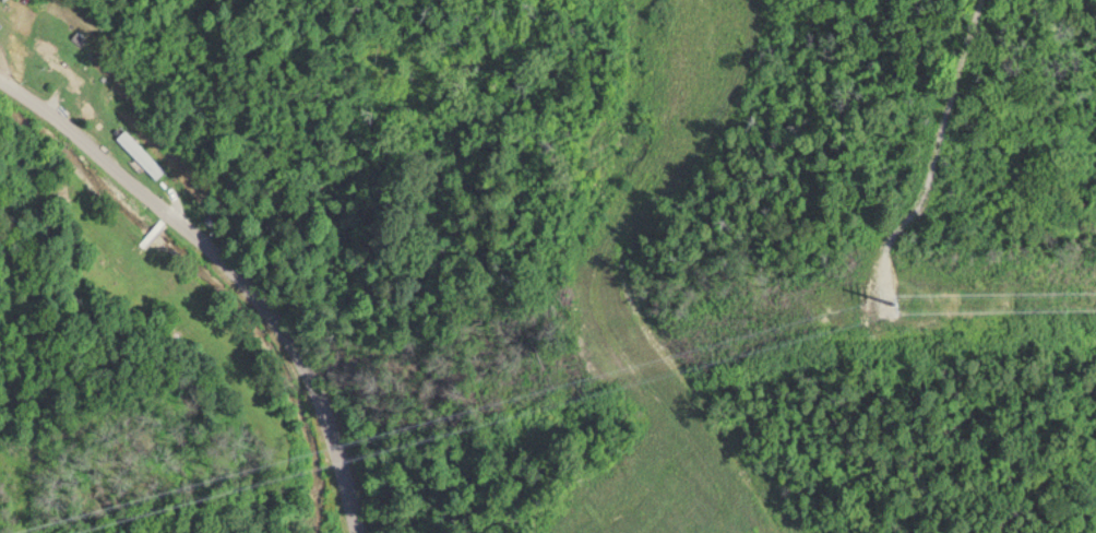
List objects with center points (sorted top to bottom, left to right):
building: (64, 66)
building: (141, 152)
road: (255, 237)
power tower: (907, 299)

